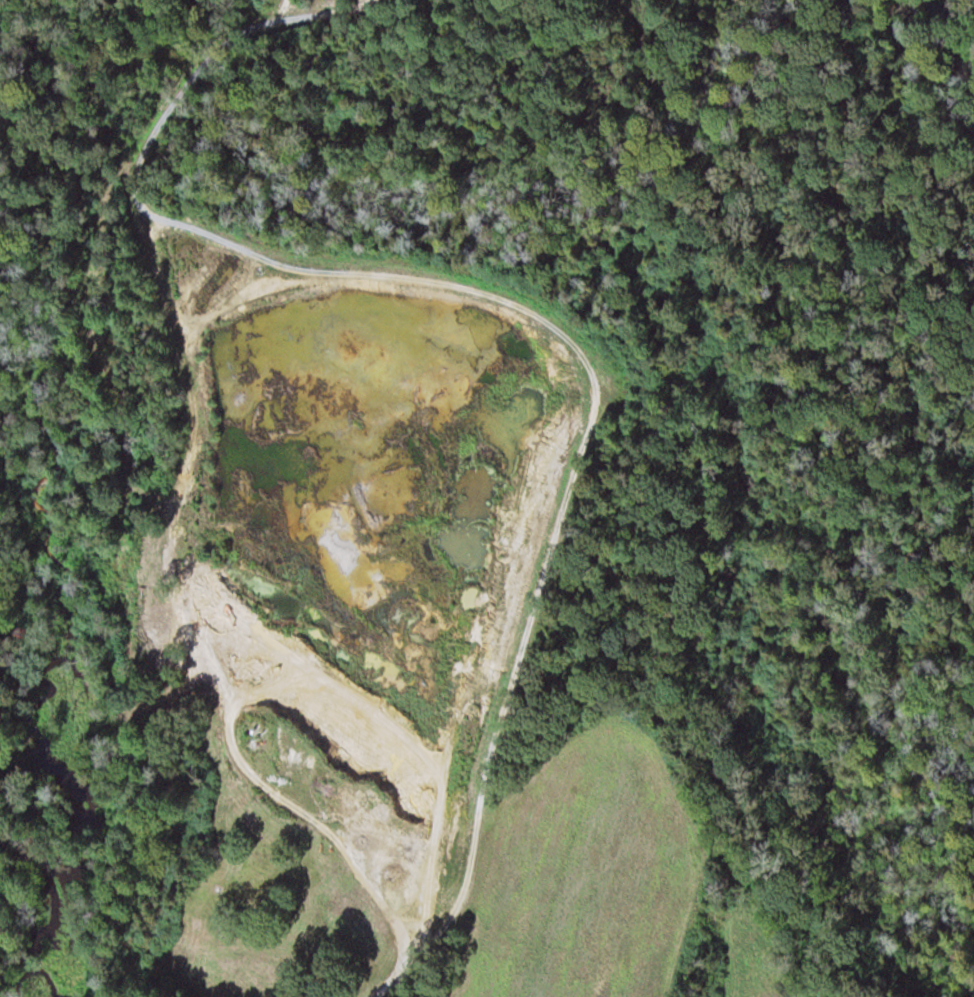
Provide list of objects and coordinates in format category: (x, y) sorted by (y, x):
building: (255, 735)
building: (263, 857)
road: (405, 879)

